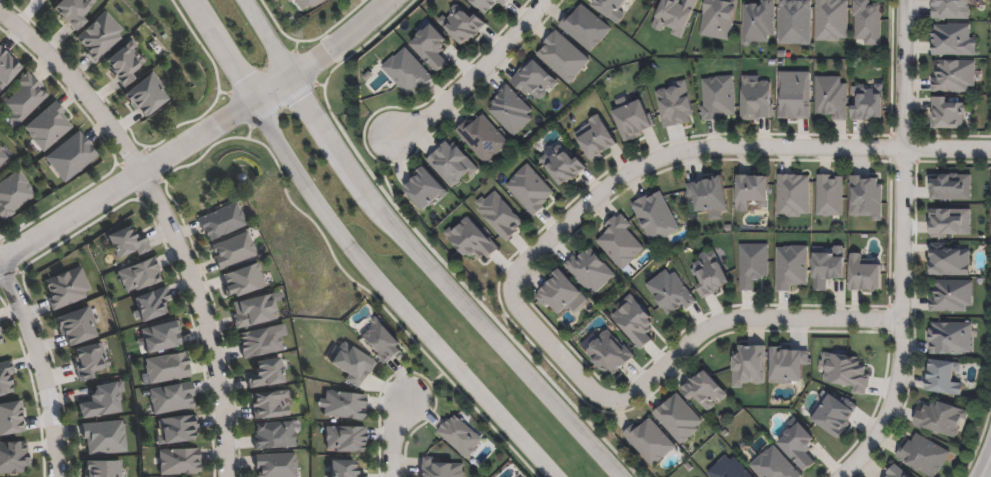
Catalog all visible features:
building: (29, 0)
building: (291, 0)
building: (310, 3)
building: (488, 4)
building: (611, 8)
building: (952, 9)
building: (74, 11)
building: (675, 15)
building: (718, 19)
building: (832, 19)
building: (867, 21)
building: (758, 22)
building: (795, 22)
building: (463, 27)
building: (586, 28)
building: (100, 37)
building: (953, 40)
road: (342, 42)
building: (431, 47)
building: (564, 57)
building: (125, 63)
building: (7, 69)
building: (407, 72)
road: (476, 76)
building: (955, 76)
building: (534, 80)
road: (271, 91)
building: (146, 96)
building: (831, 97)
building: (718, 98)
building: (795, 98)
building: (24, 99)
building: (757, 99)
building: (869, 103)
building: (675, 104)
building: (510, 110)
building: (947, 113)
building: (634, 121)
building: (48, 127)
building: (483, 139)
building: (598, 140)
road: (726, 150)
building: (71, 157)
building: (2, 158)
building: (452, 164)
building: (563, 164)
road: (126, 182)
building: (953, 188)
building: (425, 189)
building: (530, 190)
building: (752, 193)
building: (14, 194)
building: (709, 195)
building: (793, 196)
building: (830, 196)
building: (867, 197)
building: (500, 216)
building: (656, 218)
road: (166, 221)
building: (222, 222)
building: (951, 224)
building: (471, 239)
building: (128, 243)
building: (620, 243)
road: (902, 248)
building: (233, 251)
road: (413, 251)
road: (350, 253)
building: (950, 263)
building: (753, 265)
building: (792, 268)
building: (828, 268)
building: (591, 270)
building: (140, 275)
building: (864, 275)
building: (712, 276)
building: (244, 280)
building: (67, 288)
building: (671, 293)
building: (562, 295)
building: (952, 296)
building: (152, 305)
building: (255, 312)
building: (634, 321)
building: (79, 326)
building: (161, 338)
building: (952, 338)
building: (0, 340)
building: (381, 342)
building: (260, 343)
building: (608, 353)
road: (674, 355)
building: (92, 361)
building: (350, 363)
building: (749, 366)
building: (788, 366)
building: (167, 369)
road: (40, 370)
building: (846, 373)
building: (5, 374)
building: (267, 374)
building: (944, 379)
building: (704, 391)
building: (172, 399)
building: (103, 402)
building: (341, 404)
building: (269, 405)
building: (11, 415)
building: (834, 415)
building: (679, 419)
building: (942, 420)
building: (177, 431)
building: (274, 437)
road: (390, 437)
building: (461, 437)
building: (105, 438)
building: (344, 439)
building: (650, 442)
building: (799, 447)
building: (12, 454)
building: (923, 456)
building: (180, 462)
building: (276, 465)
building: (774, 465)
road: (986, 468)
building: (103, 469)
building: (343, 469)
building: (439, 469)
building: (729, 469)
building: (897, 472)
building: (516, 476)

